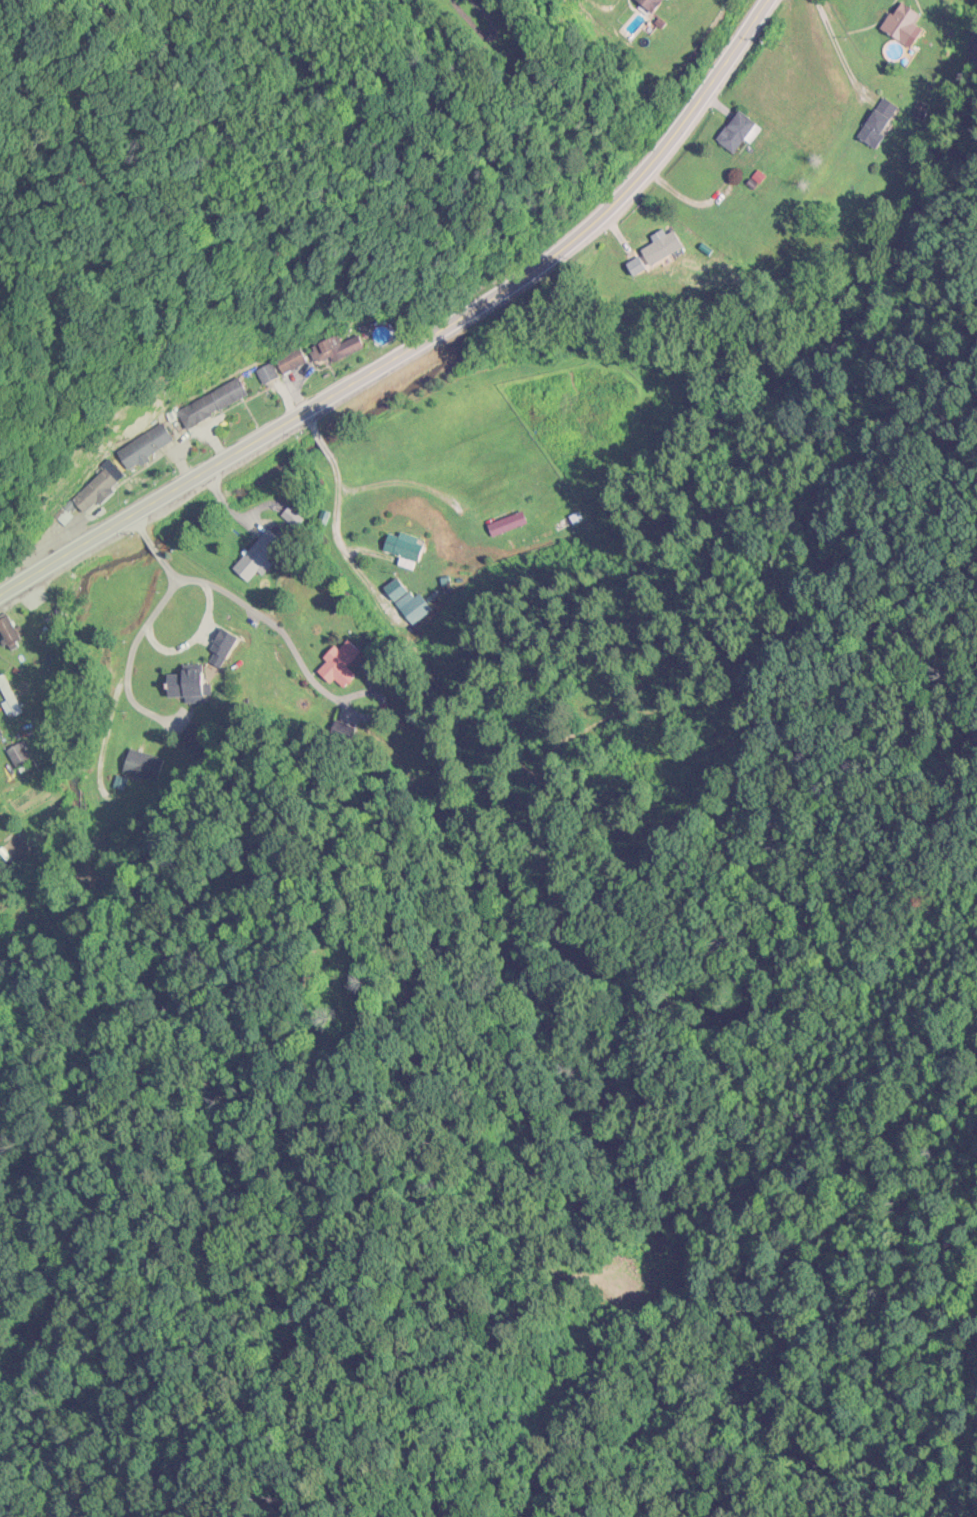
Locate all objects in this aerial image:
building: (811, 95)
building: (880, 124)
building: (740, 133)
road: (423, 341)
building: (332, 354)
building: (279, 369)
building: (223, 400)
building: (260, 556)
building: (10, 699)
building: (20, 756)
building: (18, 850)

